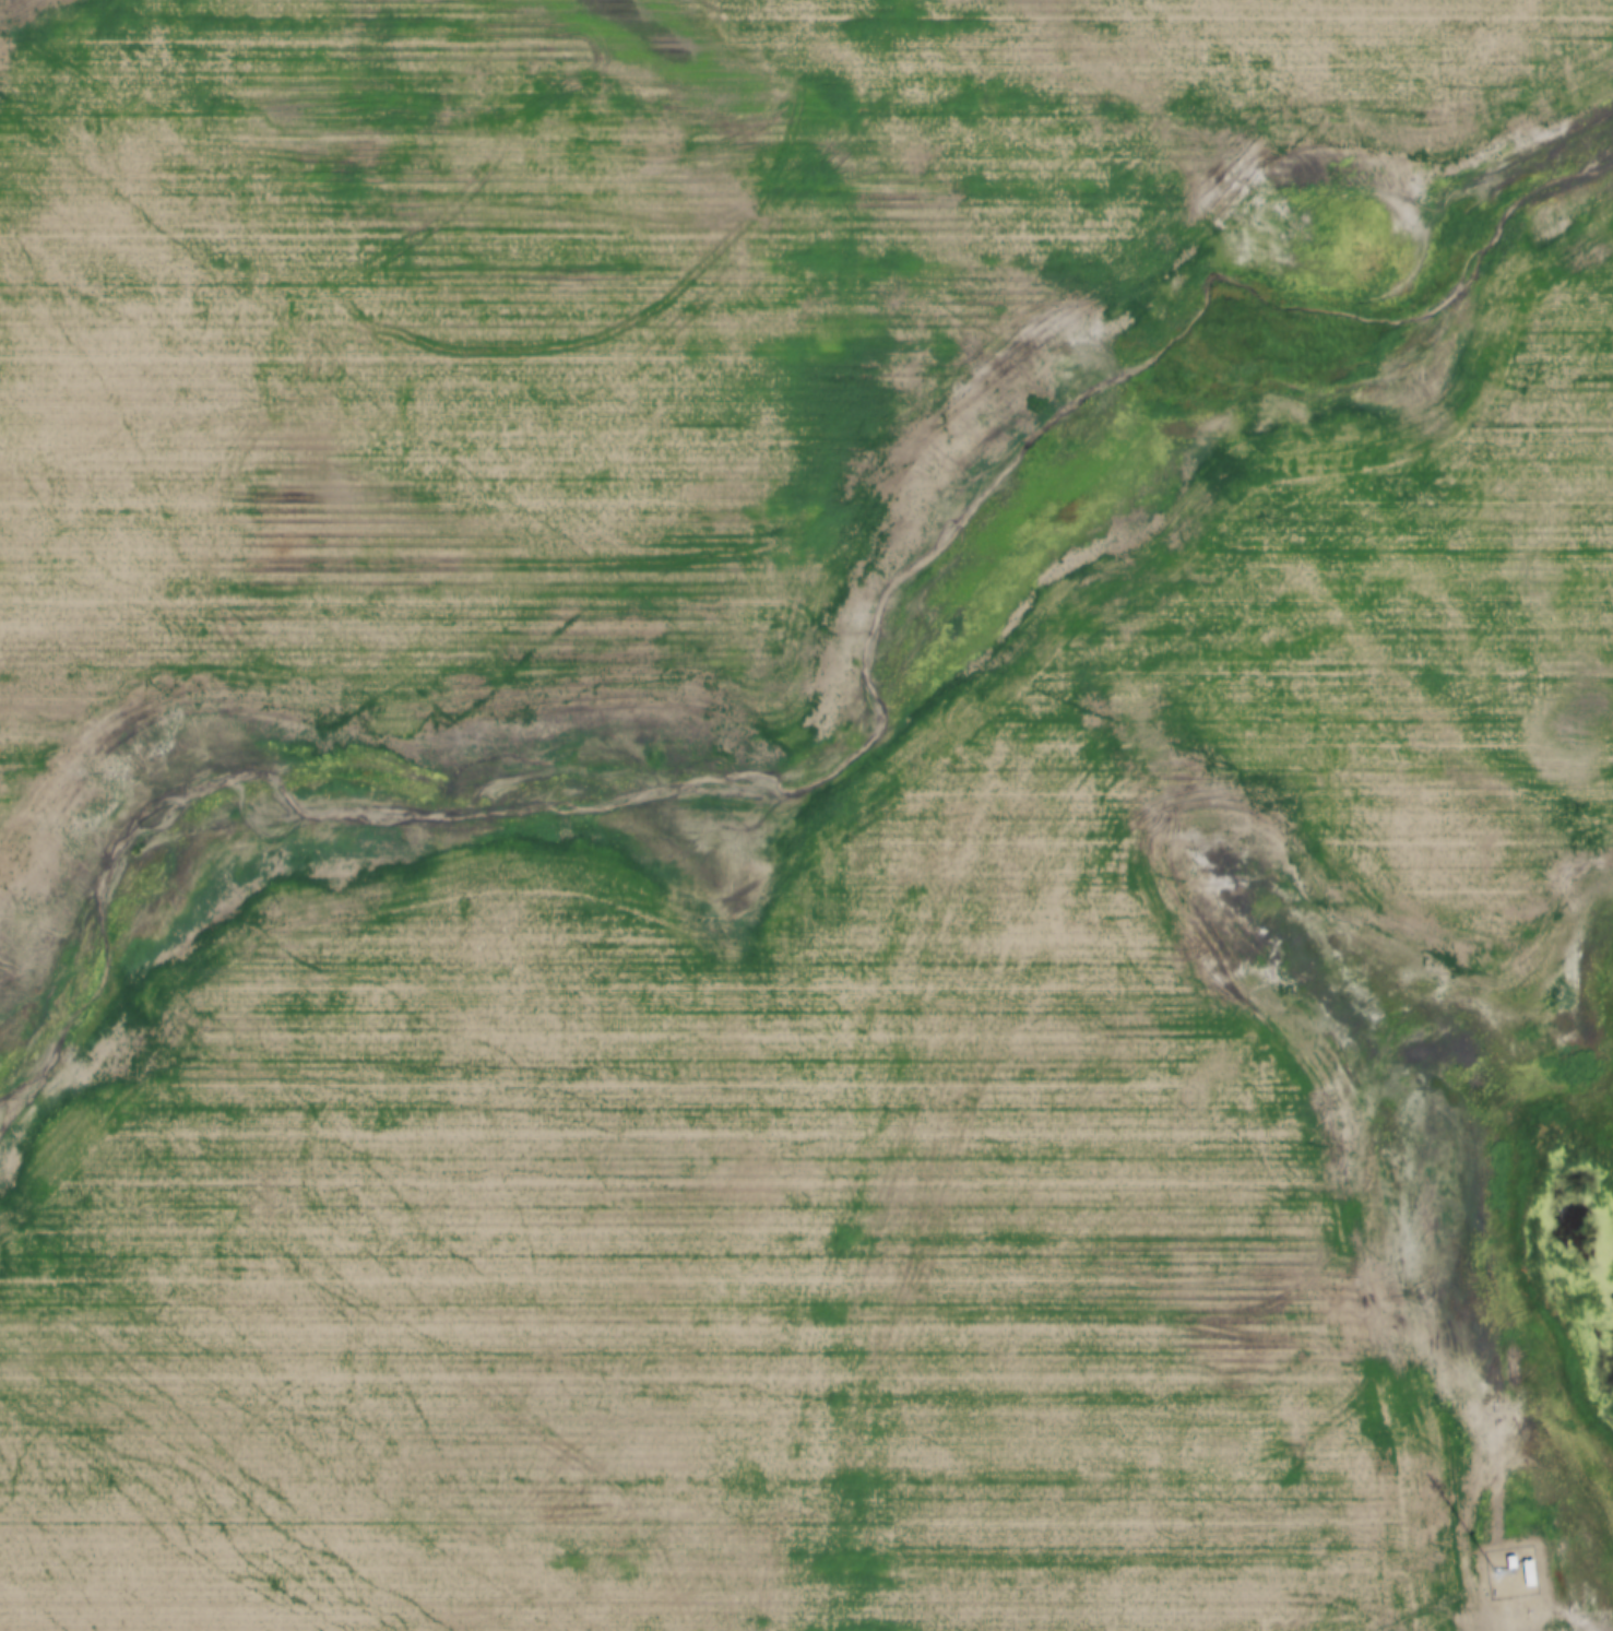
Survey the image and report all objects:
building: (1517, 1564)
building: (1532, 1574)
road: (1509, 1624)

